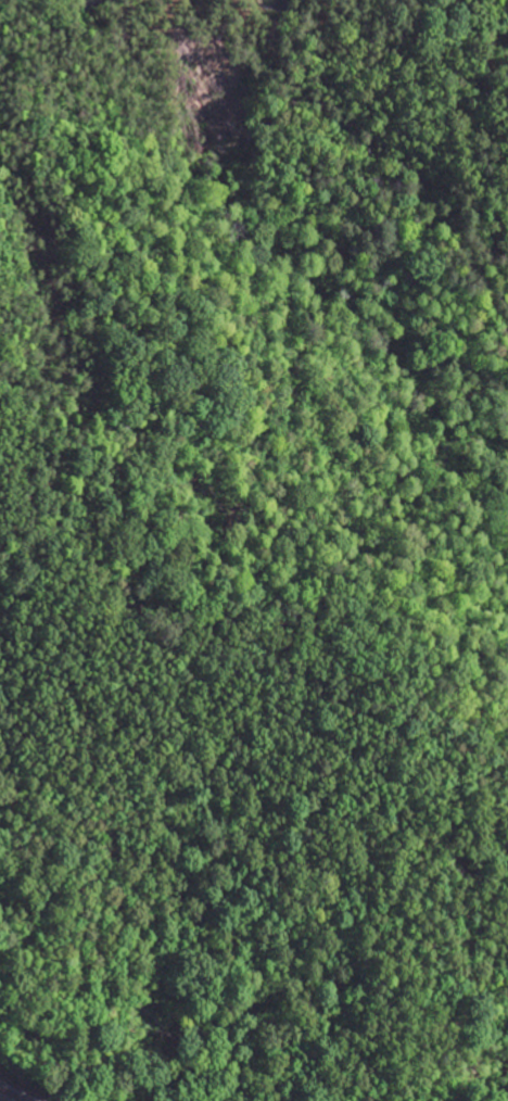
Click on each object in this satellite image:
railway: (16, 1092)

